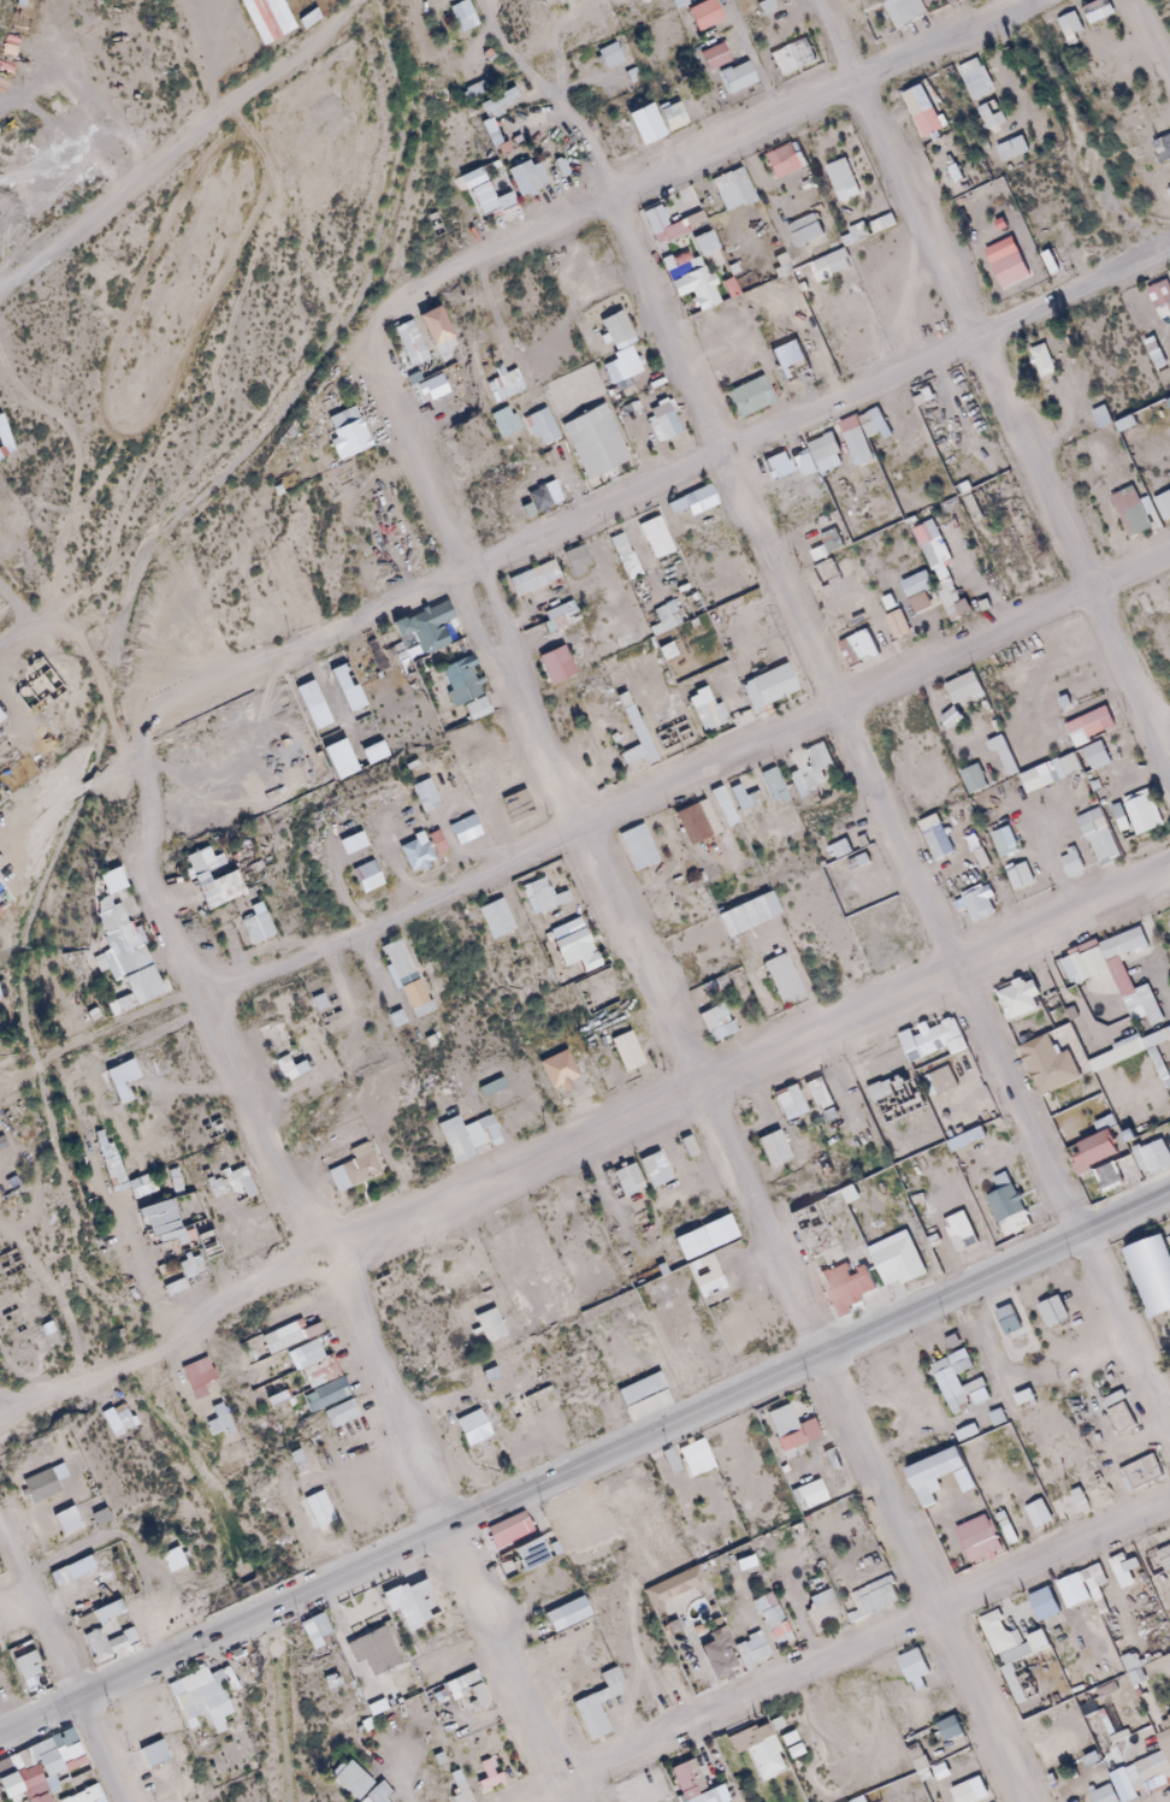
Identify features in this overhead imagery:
road: (819, 95)

